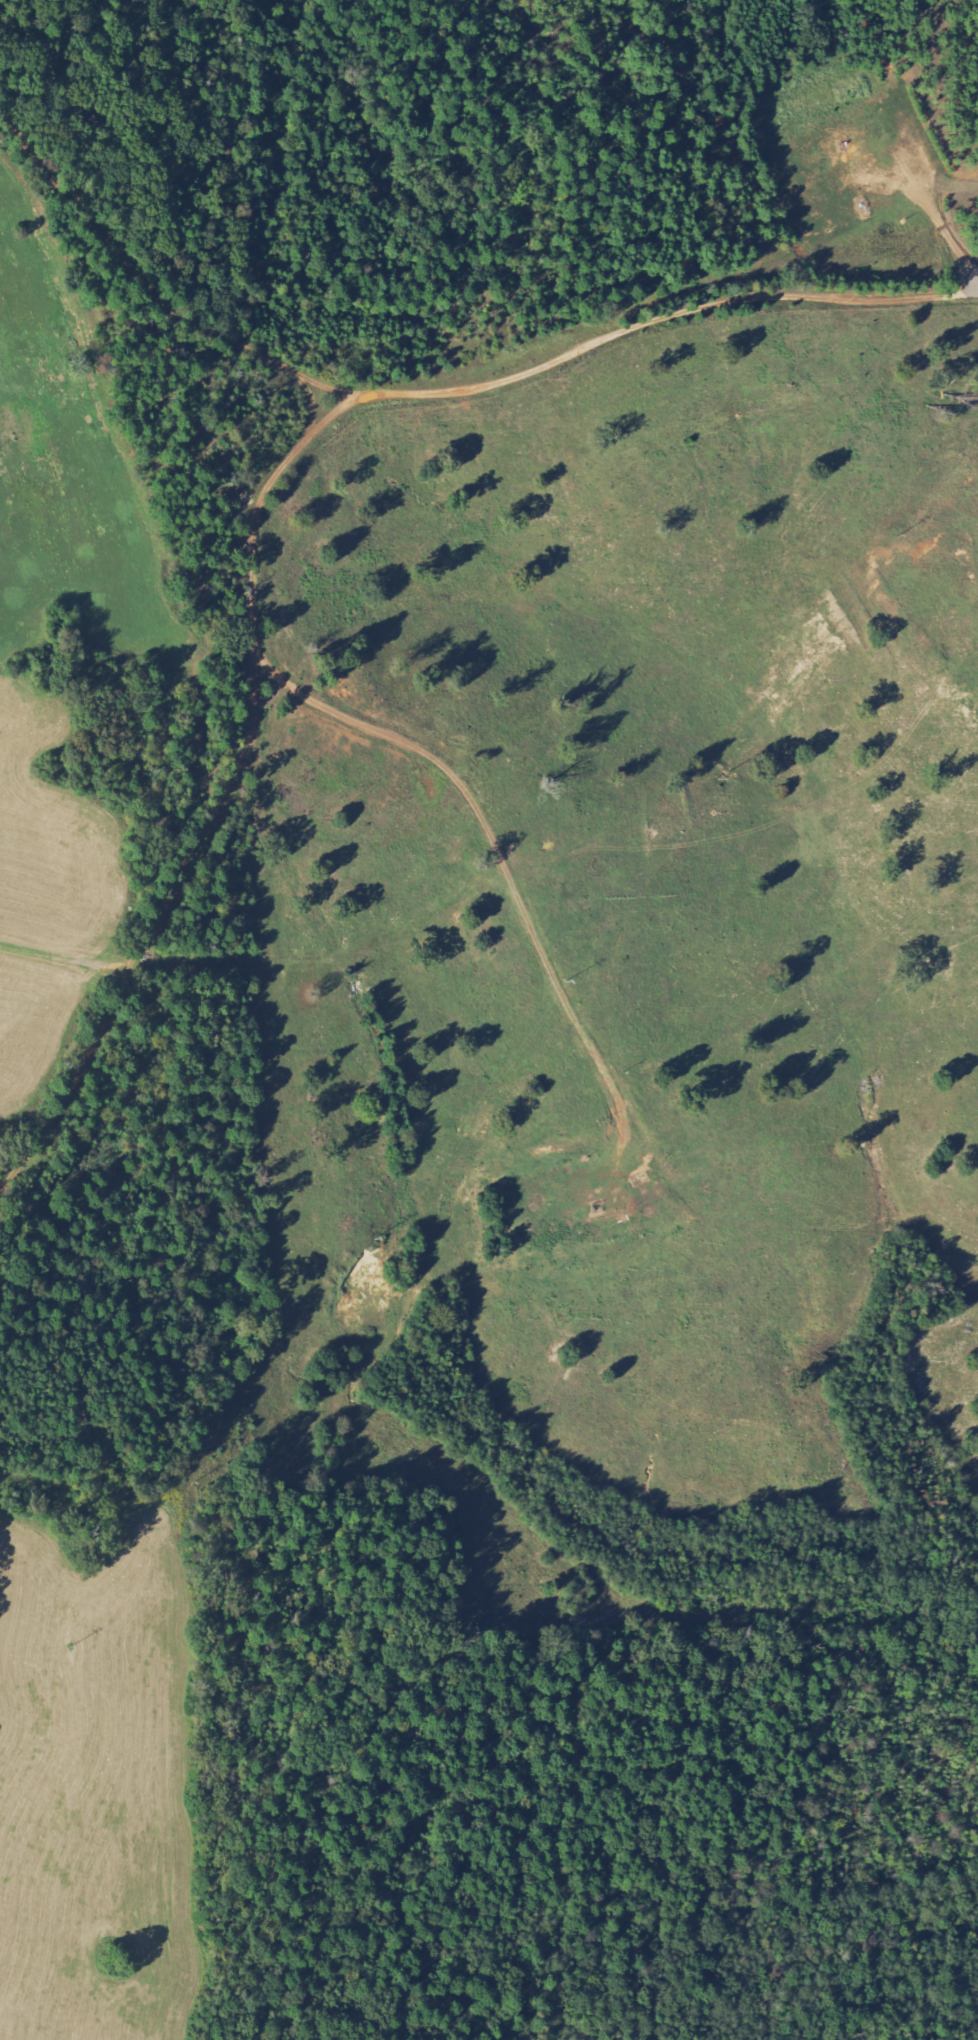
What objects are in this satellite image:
road: (442, 391)
road: (225, 792)
road: (64, 959)

